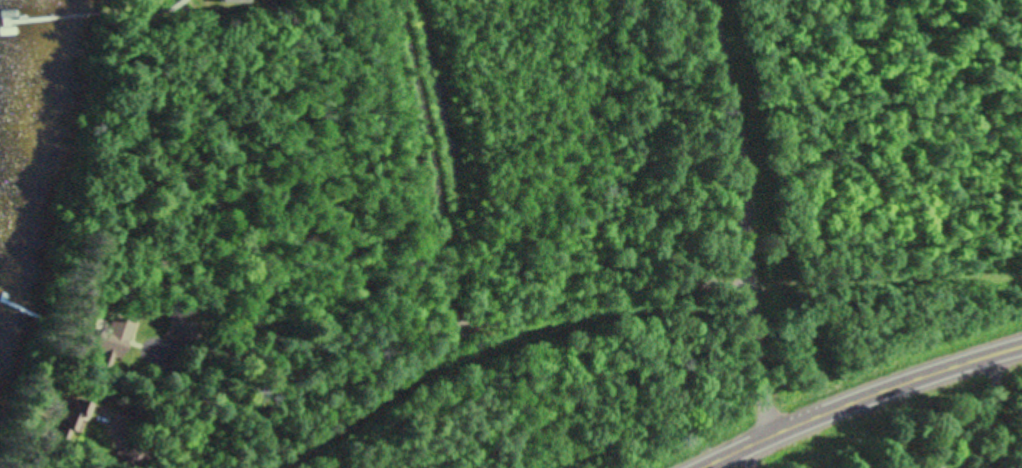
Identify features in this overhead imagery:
building: (226, 2)
road: (475, 111)
road: (147, 151)
road: (621, 201)
road: (745, 216)
road: (124, 247)
road: (149, 248)
building: (175, 326)
building: (109, 339)
road: (858, 399)
building: (72, 415)
road: (30, 445)

